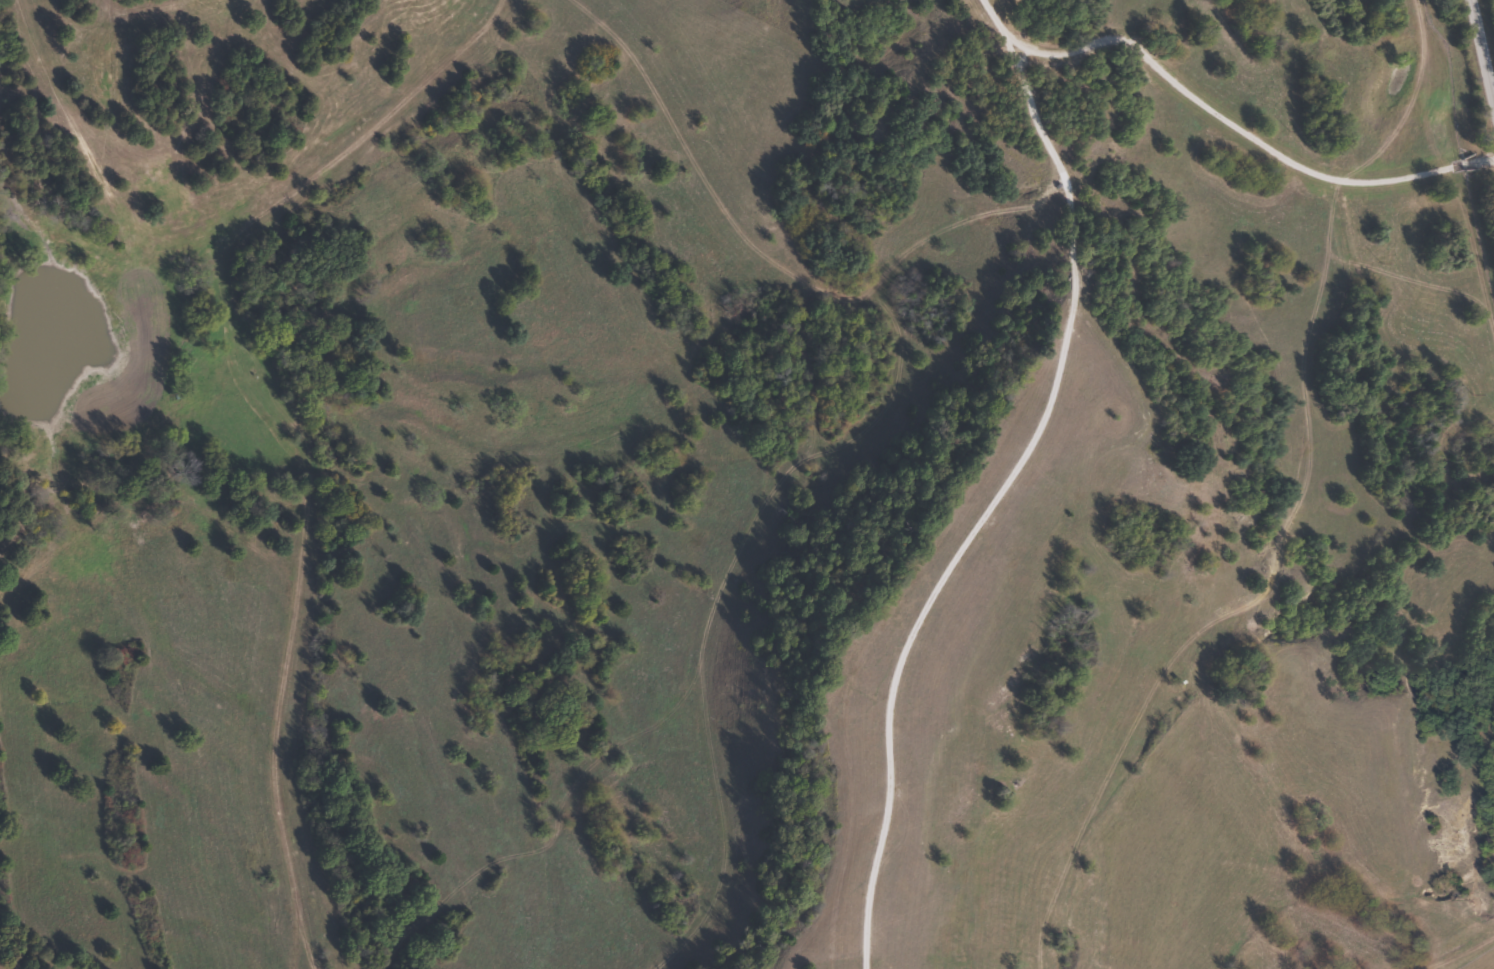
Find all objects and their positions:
road: (1477, 68)

